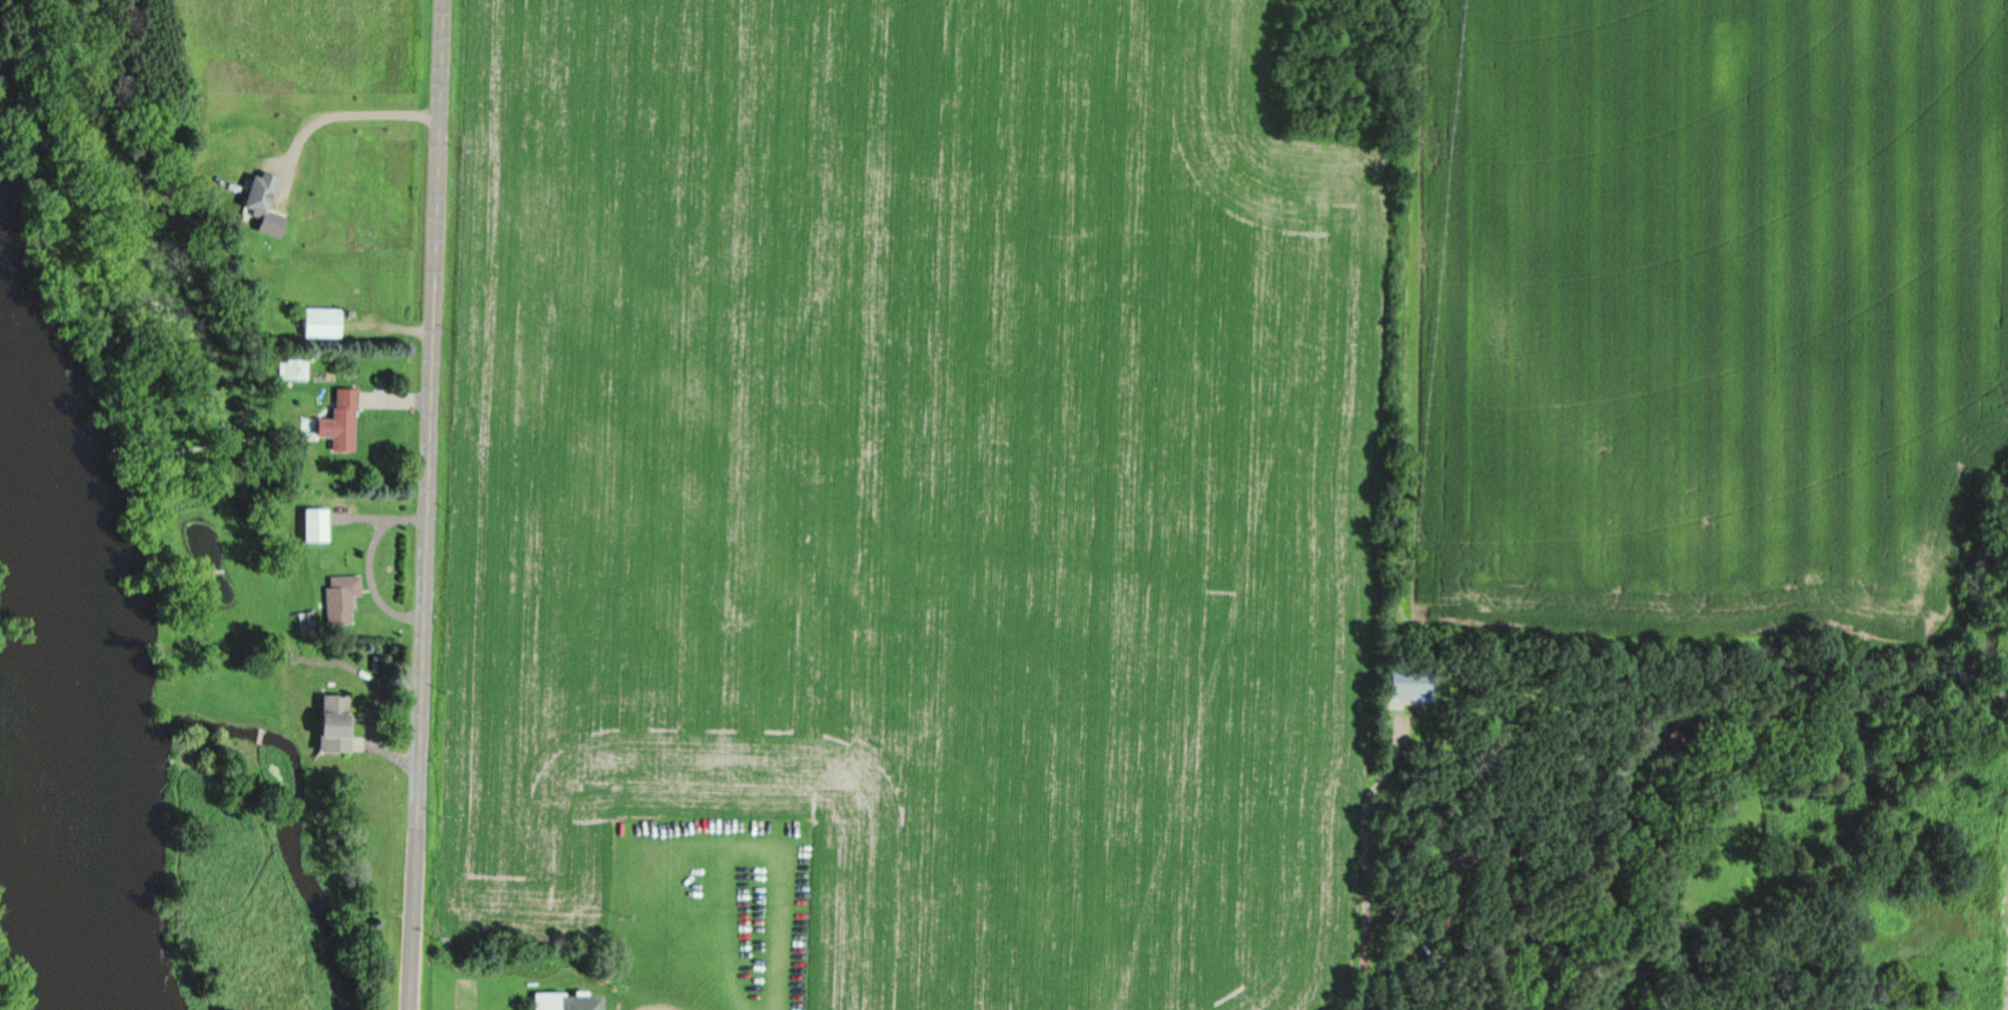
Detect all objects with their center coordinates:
building: (320, 323)
building: (295, 369)
building: (342, 420)
road: (427, 505)
building: (314, 525)
building: (339, 599)
river: (75, 650)
building: (1409, 682)
building: (332, 722)
road: (1365, 851)
park: (714, 915)
building: (548, 1000)

